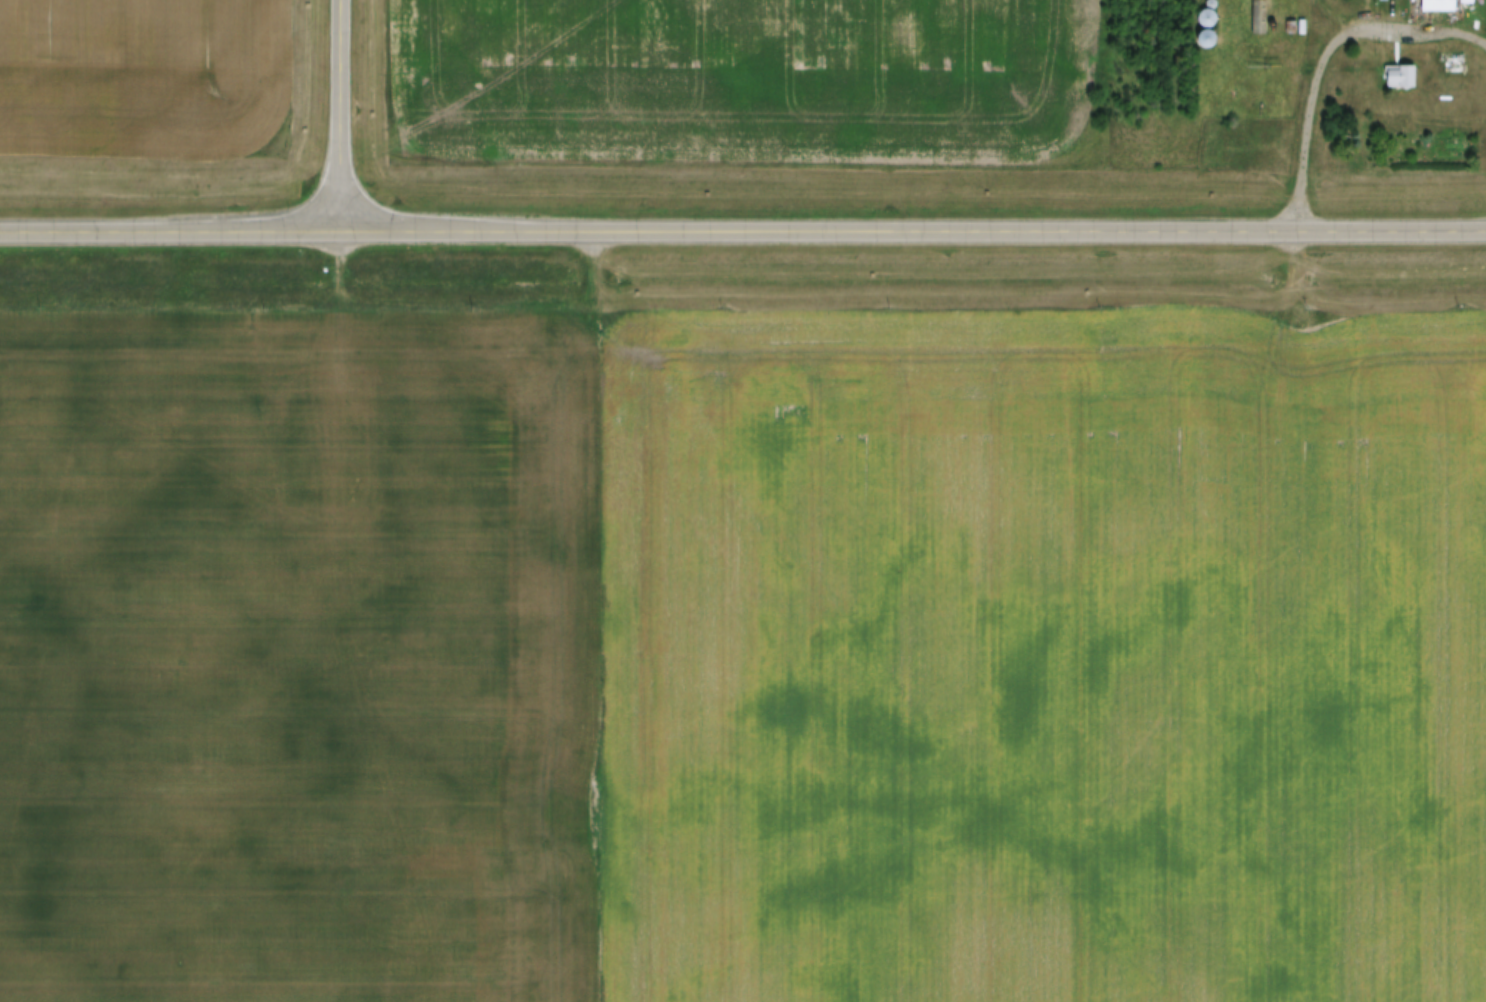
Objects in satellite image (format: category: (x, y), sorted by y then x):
building: (1440, 6)
building: (1259, 19)
building: (1208, 20)
building: (1210, 41)
road: (1326, 59)
building: (1400, 79)
road: (341, 116)
road: (743, 231)

